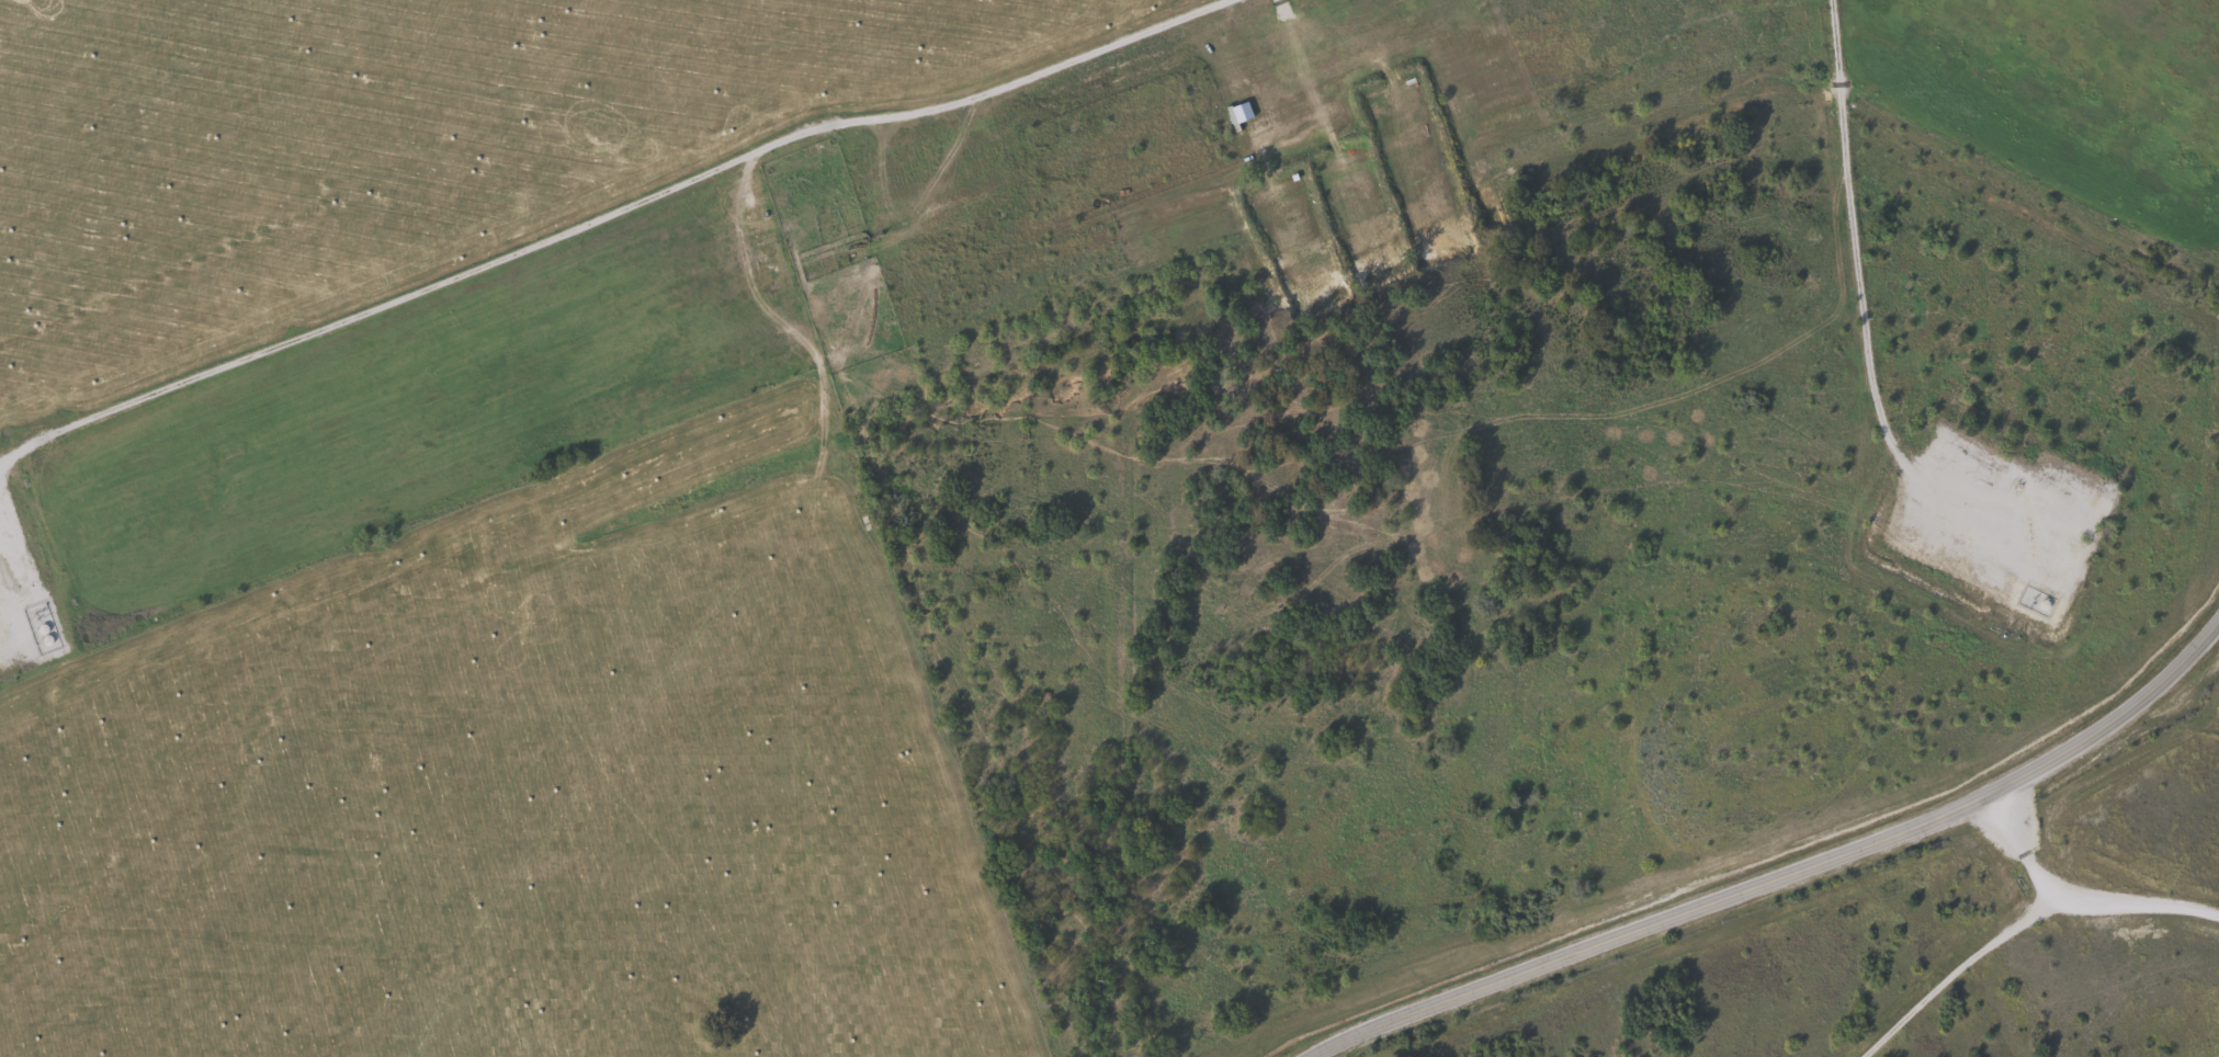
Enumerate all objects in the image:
road: (641, 203)
road: (1787, 873)
road: (2075, 899)

